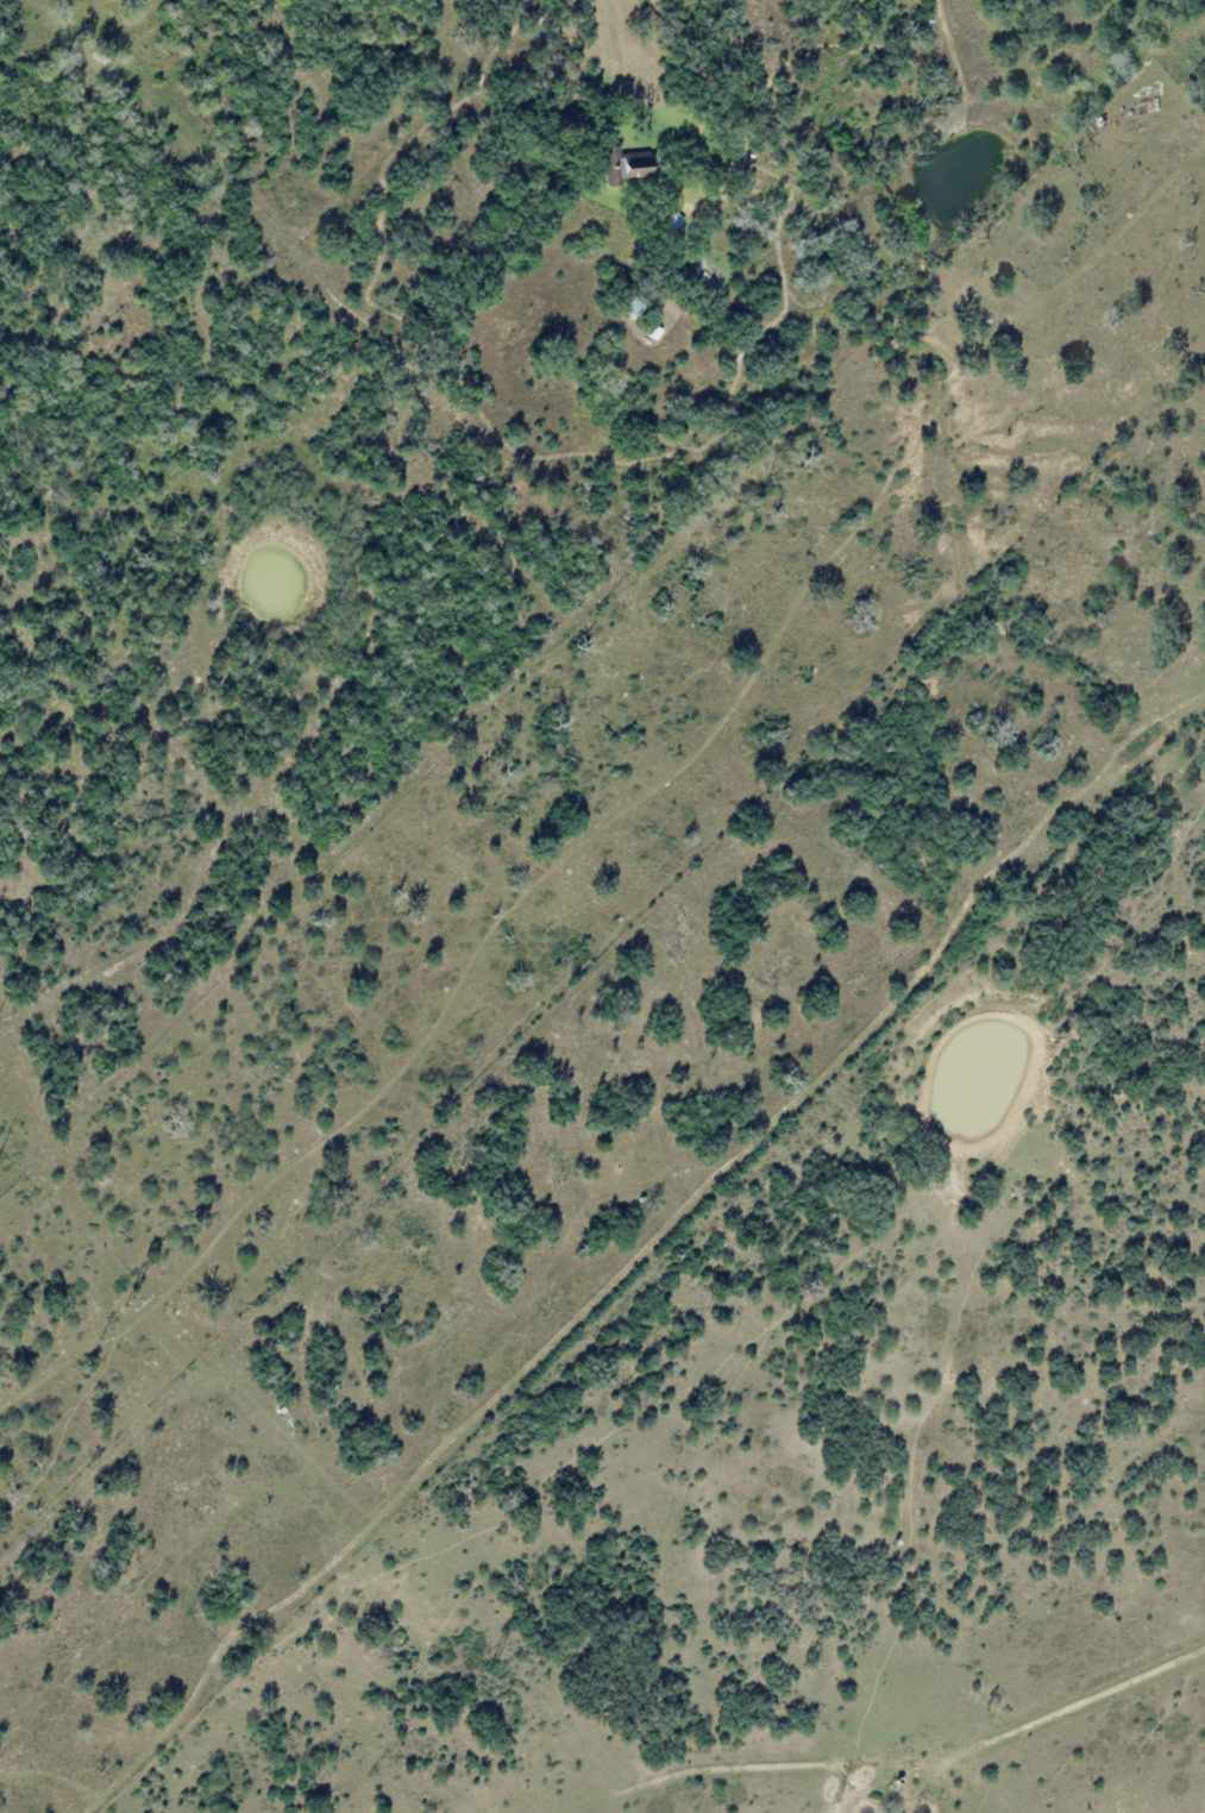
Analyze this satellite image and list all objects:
building: (964, 37)
building: (1193, 87)
building: (1149, 106)
building: (622, 170)
building: (671, 220)
building: (654, 333)
road: (617, 821)
power tower: (125, 1299)
power tower: (492, 1664)
road: (886, 1763)

